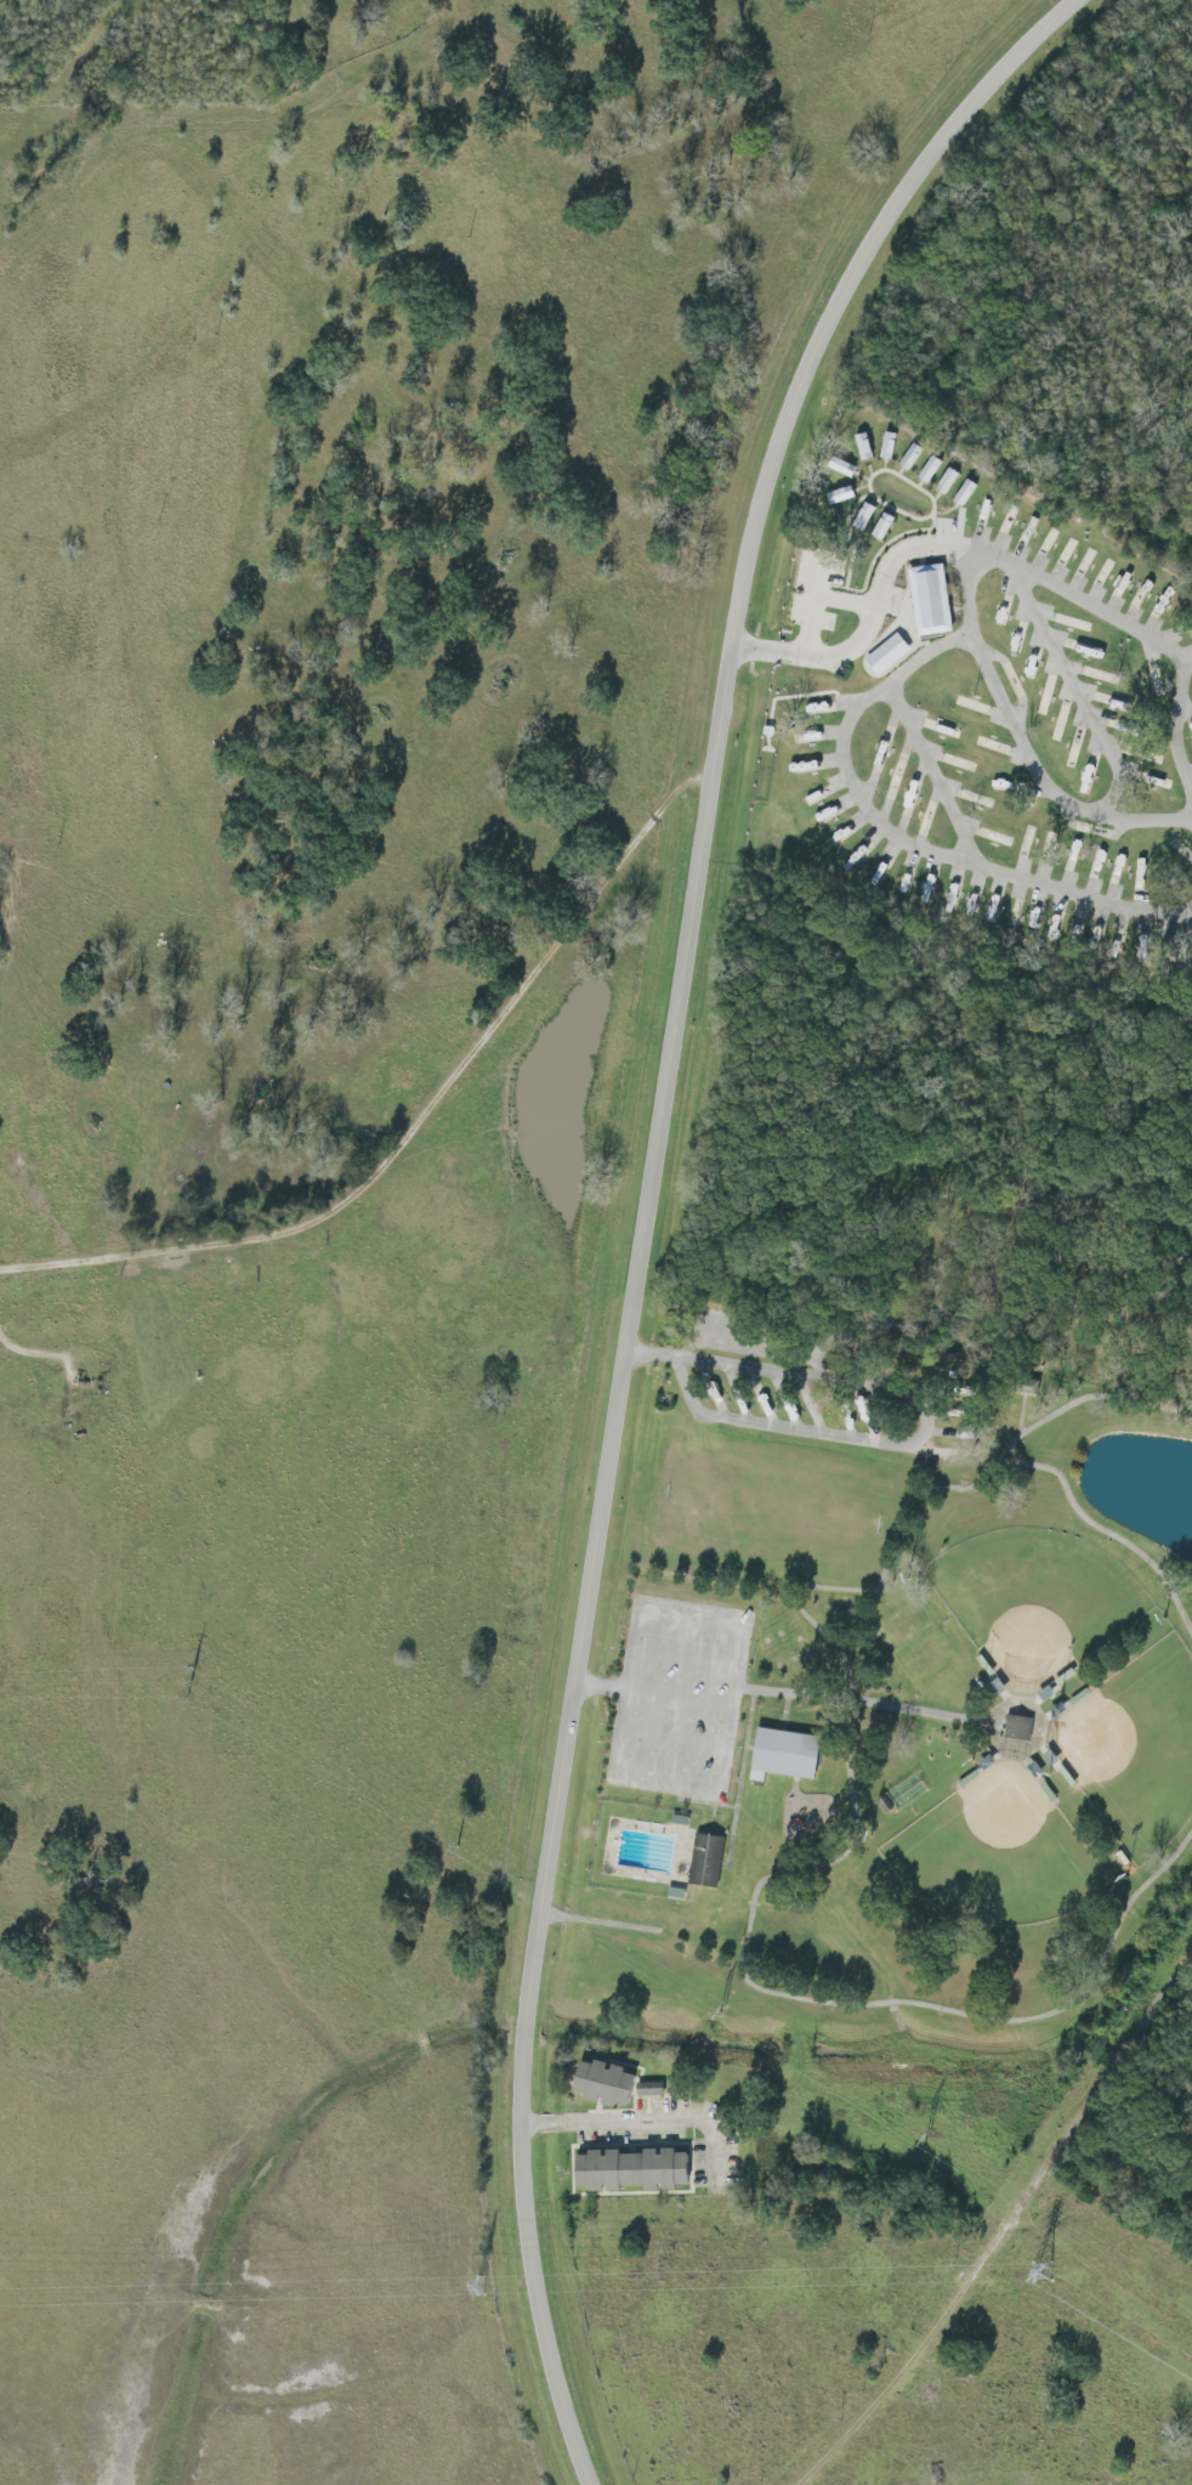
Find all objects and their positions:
building: (886, 446)
building: (908, 457)
building: (927, 469)
building: (944, 481)
road: (765, 486)
building: (963, 493)
building: (863, 516)
building: (881, 527)
building: (930, 600)
road: (818, 605)
road: (864, 629)
building: (887, 656)
road: (1074, 694)
road: (859, 706)
road: (1177, 730)
road: (932, 774)
road: (1039, 779)
road: (416, 1130)
road: (921, 1419)
power tower: (187, 1683)
building: (1017, 1728)
building: (783, 1755)
road: (563, 1774)
power tower: (455, 1847)
building: (705, 1861)
power tower: (720, 2011)
building: (603, 2084)
building: (651, 2090)
road: (638, 2116)
power tower: (925, 2138)
building: (631, 2170)
road: (1004, 2228)
power tower: (1057, 2276)
power tower: (478, 2289)

